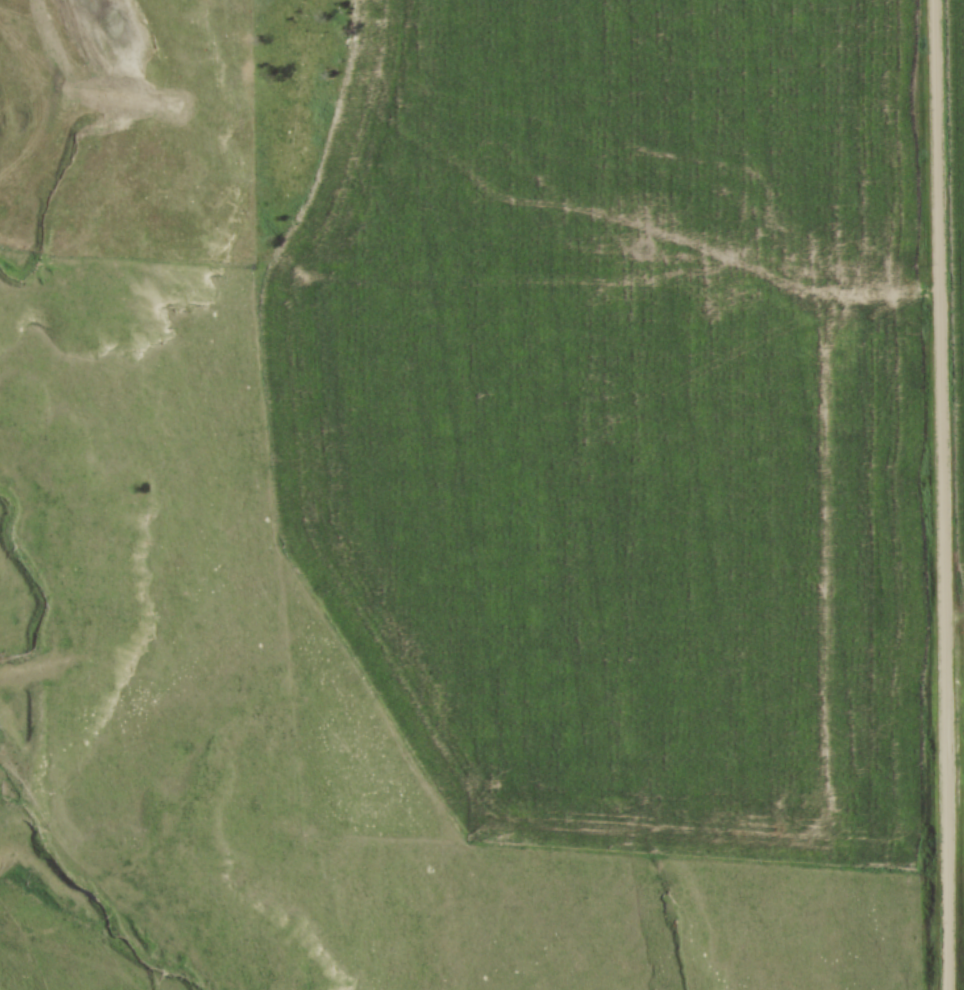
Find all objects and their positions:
road: (944, 494)

